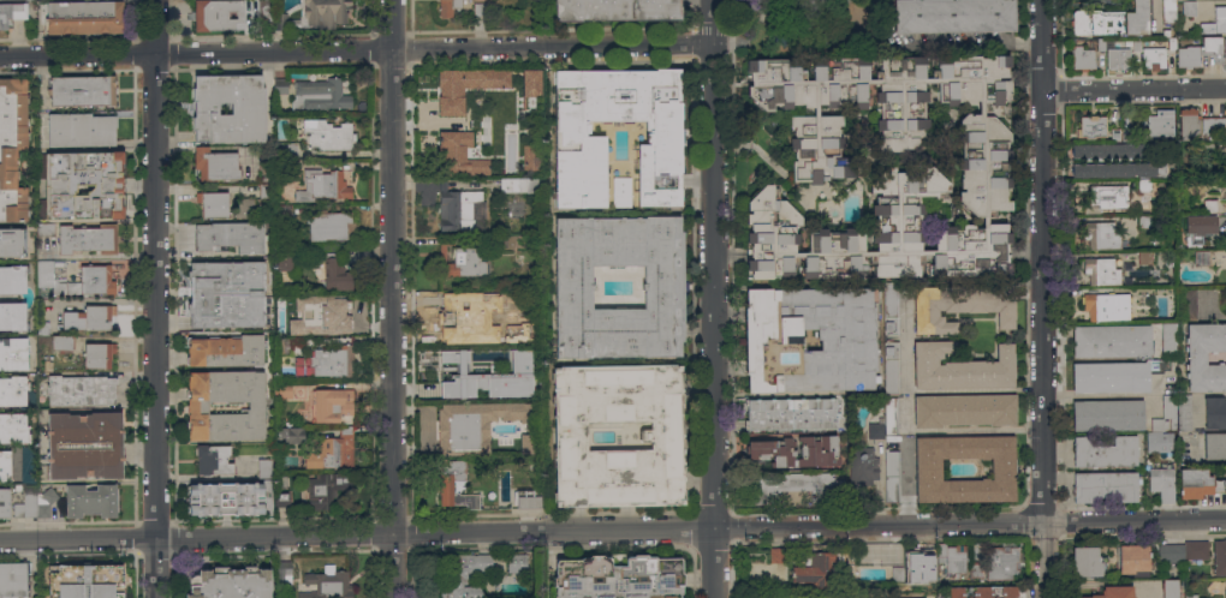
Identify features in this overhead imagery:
building: (478, 6)
building: (447, 7)
building: (1189, 7)
building: (615, 10)
building: (1168, 11)
building: (327, 12)
building: (11, 14)
building: (216, 14)
building: (266, 14)
building: (953, 16)
building: (82, 18)
building: (1216, 19)
building: (1111, 20)
park: (811, 26)
building: (784, 36)
building: (1136, 44)
building: (1196, 50)
road: (355, 52)
building: (1085, 54)
building: (1151, 55)
building: (1117, 59)
building: (529, 82)
building: (281, 85)
building: (82, 90)
building: (460, 90)
road: (1133, 90)
building: (326, 91)
building: (249, 104)
building: (490, 114)
building: (1186, 122)
building: (1212, 124)
building: (1159, 125)
building: (1091, 126)
building: (79, 130)
building: (517, 130)
building: (331, 131)
building: (1114, 134)
building: (1126, 134)
building: (578, 138)
building: (487, 144)
building: (286, 145)
building: (12, 148)
building: (1208, 149)
building: (1111, 150)
building: (454, 153)
building: (264, 159)
building: (1225, 159)
building: (218, 160)
building: (292, 165)
building: (883, 168)
building: (1119, 169)
building: (325, 181)
building: (84, 184)
building: (1143, 184)
building: (517, 185)
building: (266, 186)
building: (1225, 190)
building: (619, 192)
building: (1106, 198)
building: (214, 199)
building: (246, 204)
building: (1209, 205)
building: (285, 207)
building: (460, 209)
building: (1143, 221)
building: (332, 222)
building: (1197, 228)
building: (44, 229)
building: (232, 233)
building: (1101, 235)
building: (87, 239)
building: (12, 241)
building: (505, 244)
building: (1144, 257)
building: (1201, 258)
building: (284, 259)
building: (462, 259)
road: (1042, 261)
building: (1101, 271)
building: (94, 273)
building: (75, 274)
building: (335, 274)
building: (224, 276)
building: (13, 279)
building: (663, 286)
building: (309, 298)
road: (388, 298)
road: (712, 298)
road: (154, 299)
building: (513, 300)
building: (281, 301)
building: (1225, 303)
building: (1188, 305)
building: (959, 306)
building: (1106, 306)
building: (891, 309)
building: (225, 312)
building: (13, 316)
building: (89, 318)
building: (331, 318)
building: (456, 321)
building: (42, 328)
building: (531, 330)
building: (1168, 340)
building: (61, 342)
building: (773, 345)
building: (286, 348)
building: (225, 349)
building: (13, 353)
building: (506, 353)
building: (97, 354)
building: (1204, 357)
building: (1142, 358)
building: (329, 361)
building: (298, 365)
building: (891, 367)
building: (960, 367)
building: (460, 377)
building: (12, 390)
building: (79, 390)
building: (281, 391)
building: (197, 406)
building: (332, 406)
building: (963, 409)
building: (1214, 412)
building: (791, 413)
building: (1107, 414)
building: (889, 417)
building: (282, 424)
building: (474, 424)
building: (1179, 424)
building: (13, 427)
road: (986, 430)
building: (290, 435)
building: (661, 436)
building: (84, 444)
building: (1214, 445)
building: (1103, 450)
building: (332, 452)
building: (794, 452)
building: (213, 459)
building: (28, 465)
building: (5, 466)
building: (264, 468)
building: (862, 468)
building: (927, 468)
building: (889, 473)
building: (796, 483)
building: (1161, 483)
building: (1197, 483)
building: (446, 484)
building: (1105, 485)
building: (17, 488)
building: (325, 489)
building: (225, 498)
building: (281, 498)
building: (528, 498)
building: (90, 501)
building: (4, 502)
building: (44, 502)
building: (26, 503)
road: (1133, 520)
road: (520, 530)
building: (1195, 549)
building: (801, 550)
building: (1170, 554)
building: (778, 555)
building: (1219, 557)
road: (1042, 560)
building: (1132, 560)
building: (1085, 561)
building: (516, 563)
building: (1001, 563)
building: (930, 564)
building: (819, 568)
building: (975, 569)
building: (282, 572)
building: (463, 574)
building: (617, 578)
building: (13, 579)
building: (85, 581)
building: (230, 582)
building: (327, 584)
building: (1168, 587)
building: (981, 591)
building: (1112, 592)
building: (1225, 593)
building: (1190, 596)

